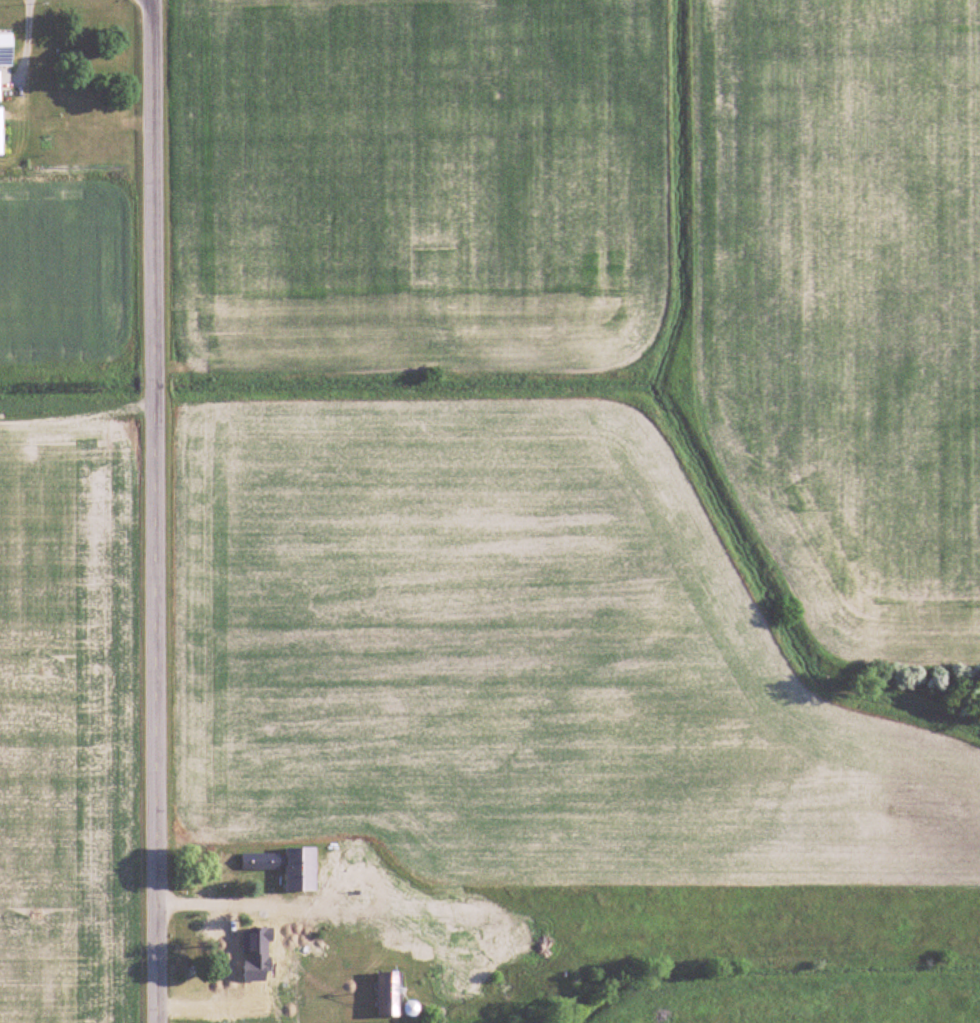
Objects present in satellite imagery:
building: (6, 50)
building: (1, 131)
road: (152, 511)
building: (262, 861)
building: (301, 869)
road: (209, 901)
building: (228, 945)
building: (389, 993)

